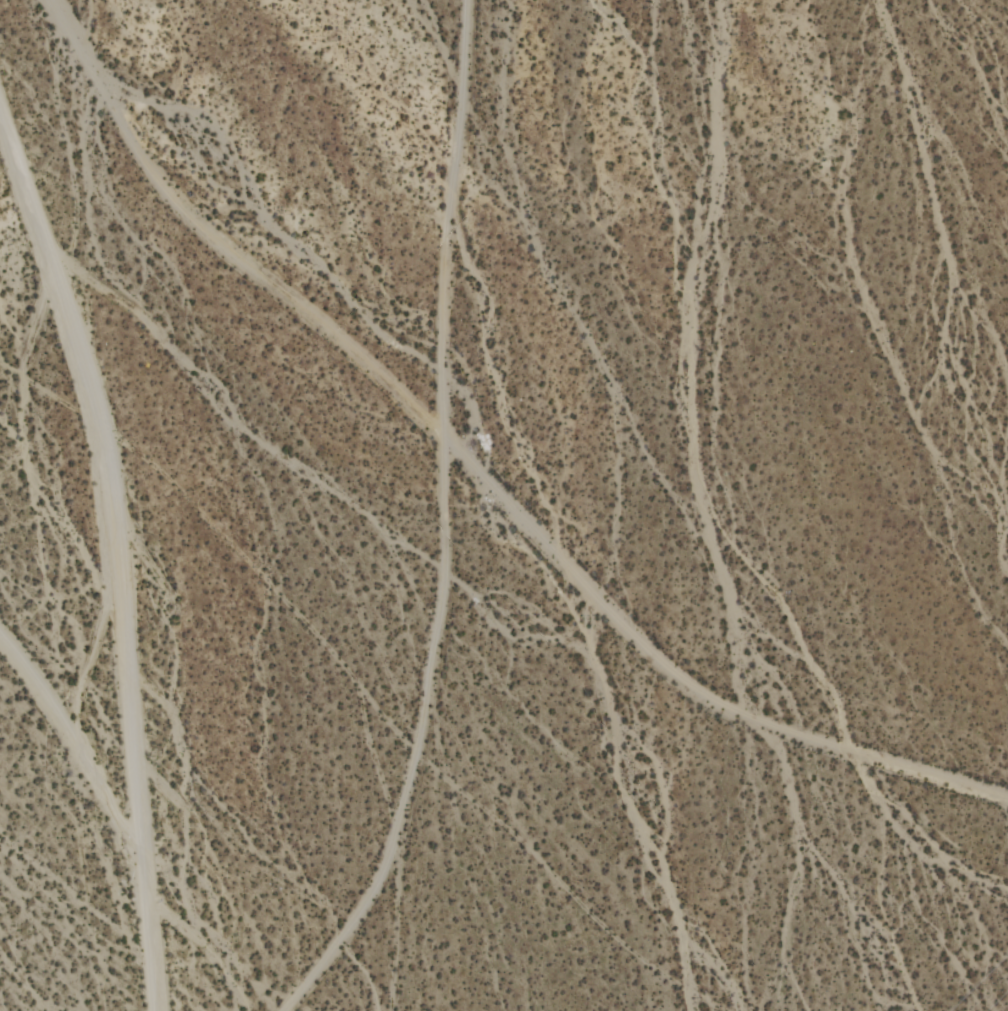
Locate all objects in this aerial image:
road: (474, 472)
road: (444, 522)
road: (114, 555)

